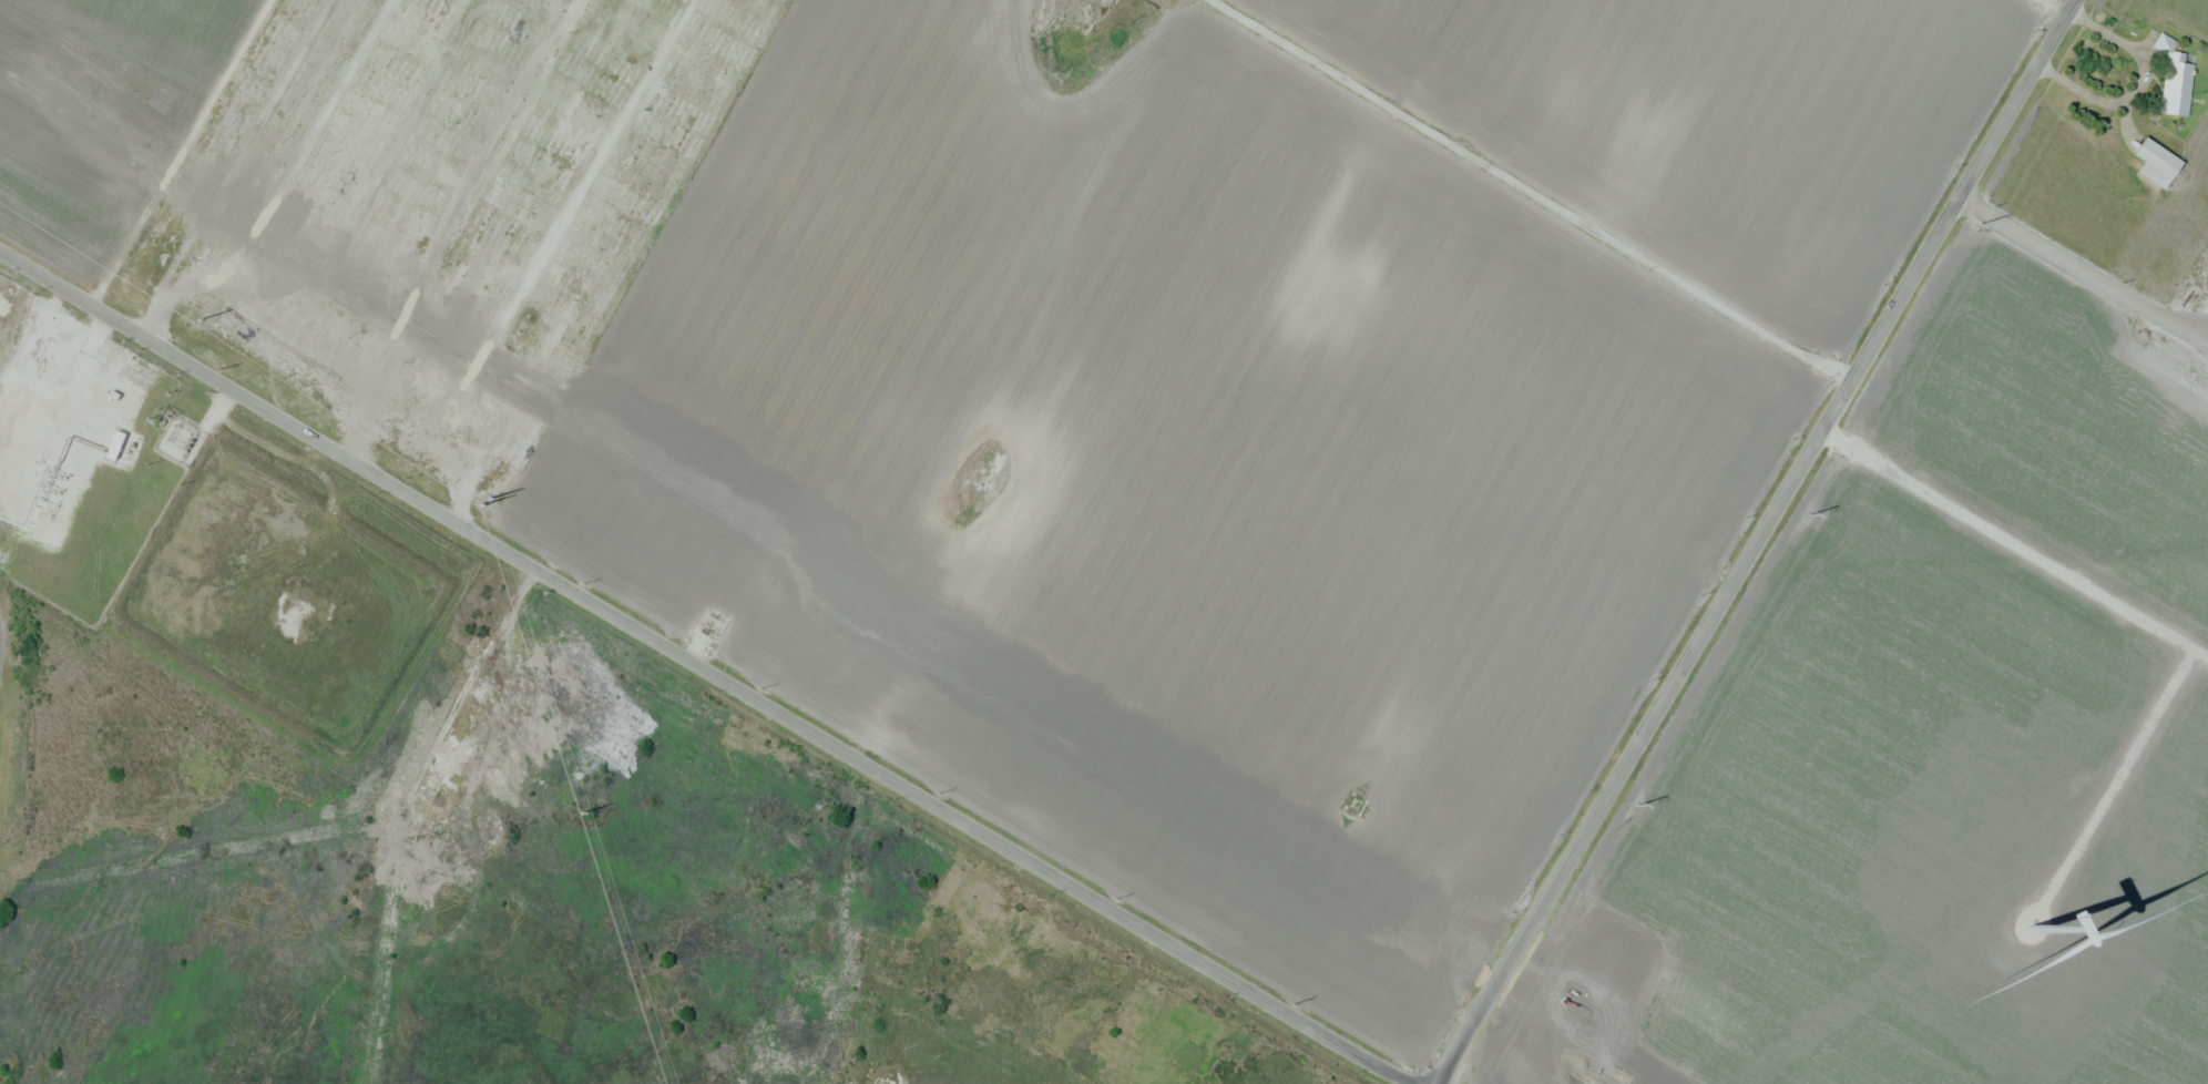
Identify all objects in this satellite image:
building: (2157, 43)
building: (2169, 88)
road: (173, 152)
building: (2148, 163)
road: (1531, 191)
power tower: (1979, 222)
power tower: (198, 320)
power tower: (219, 369)
power substation: (181, 440)
power tower: (406, 478)
power tower: (484, 503)
power tower: (1807, 513)
road: (1757, 540)
power tower: (584, 583)
building: (299, 610)
road: (707, 669)
power tower: (761, 687)
power tower: (939, 792)
power tower: (1636, 805)
power tower: (583, 814)
power tower: (1116, 898)
wind turbine: (2027, 933)
power tower: (1295, 1004)

